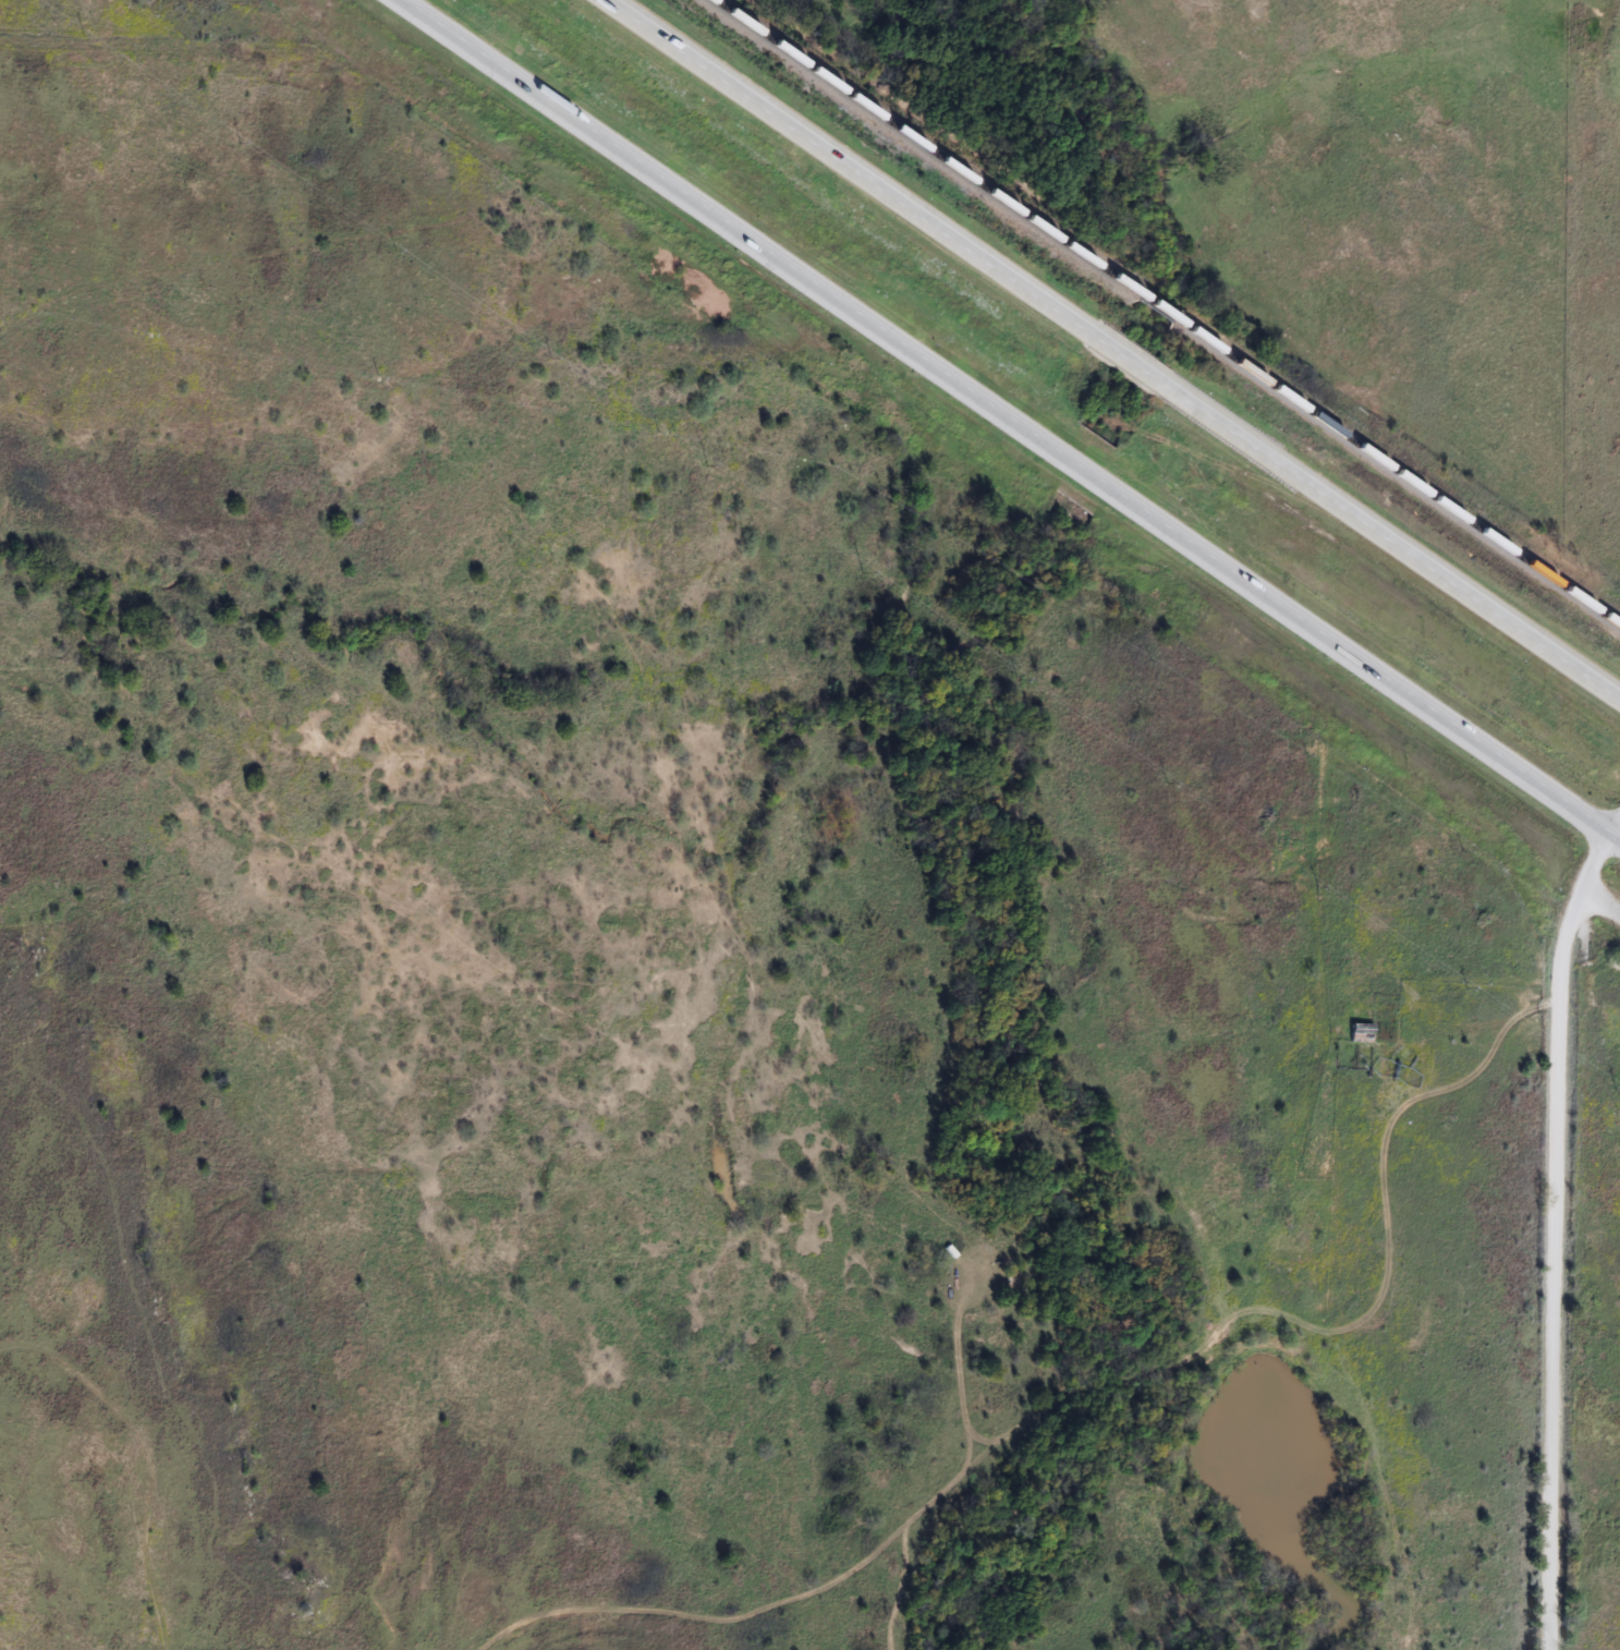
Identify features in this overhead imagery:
railway: (922, 147)
railway: (1152, 307)
road: (1120, 344)
road: (1015, 415)
railway: (1394, 474)
road: (1618, 834)
road: (1605, 890)
building: (1356, 1033)
road: (1559, 1232)
road: (1100, 1362)

